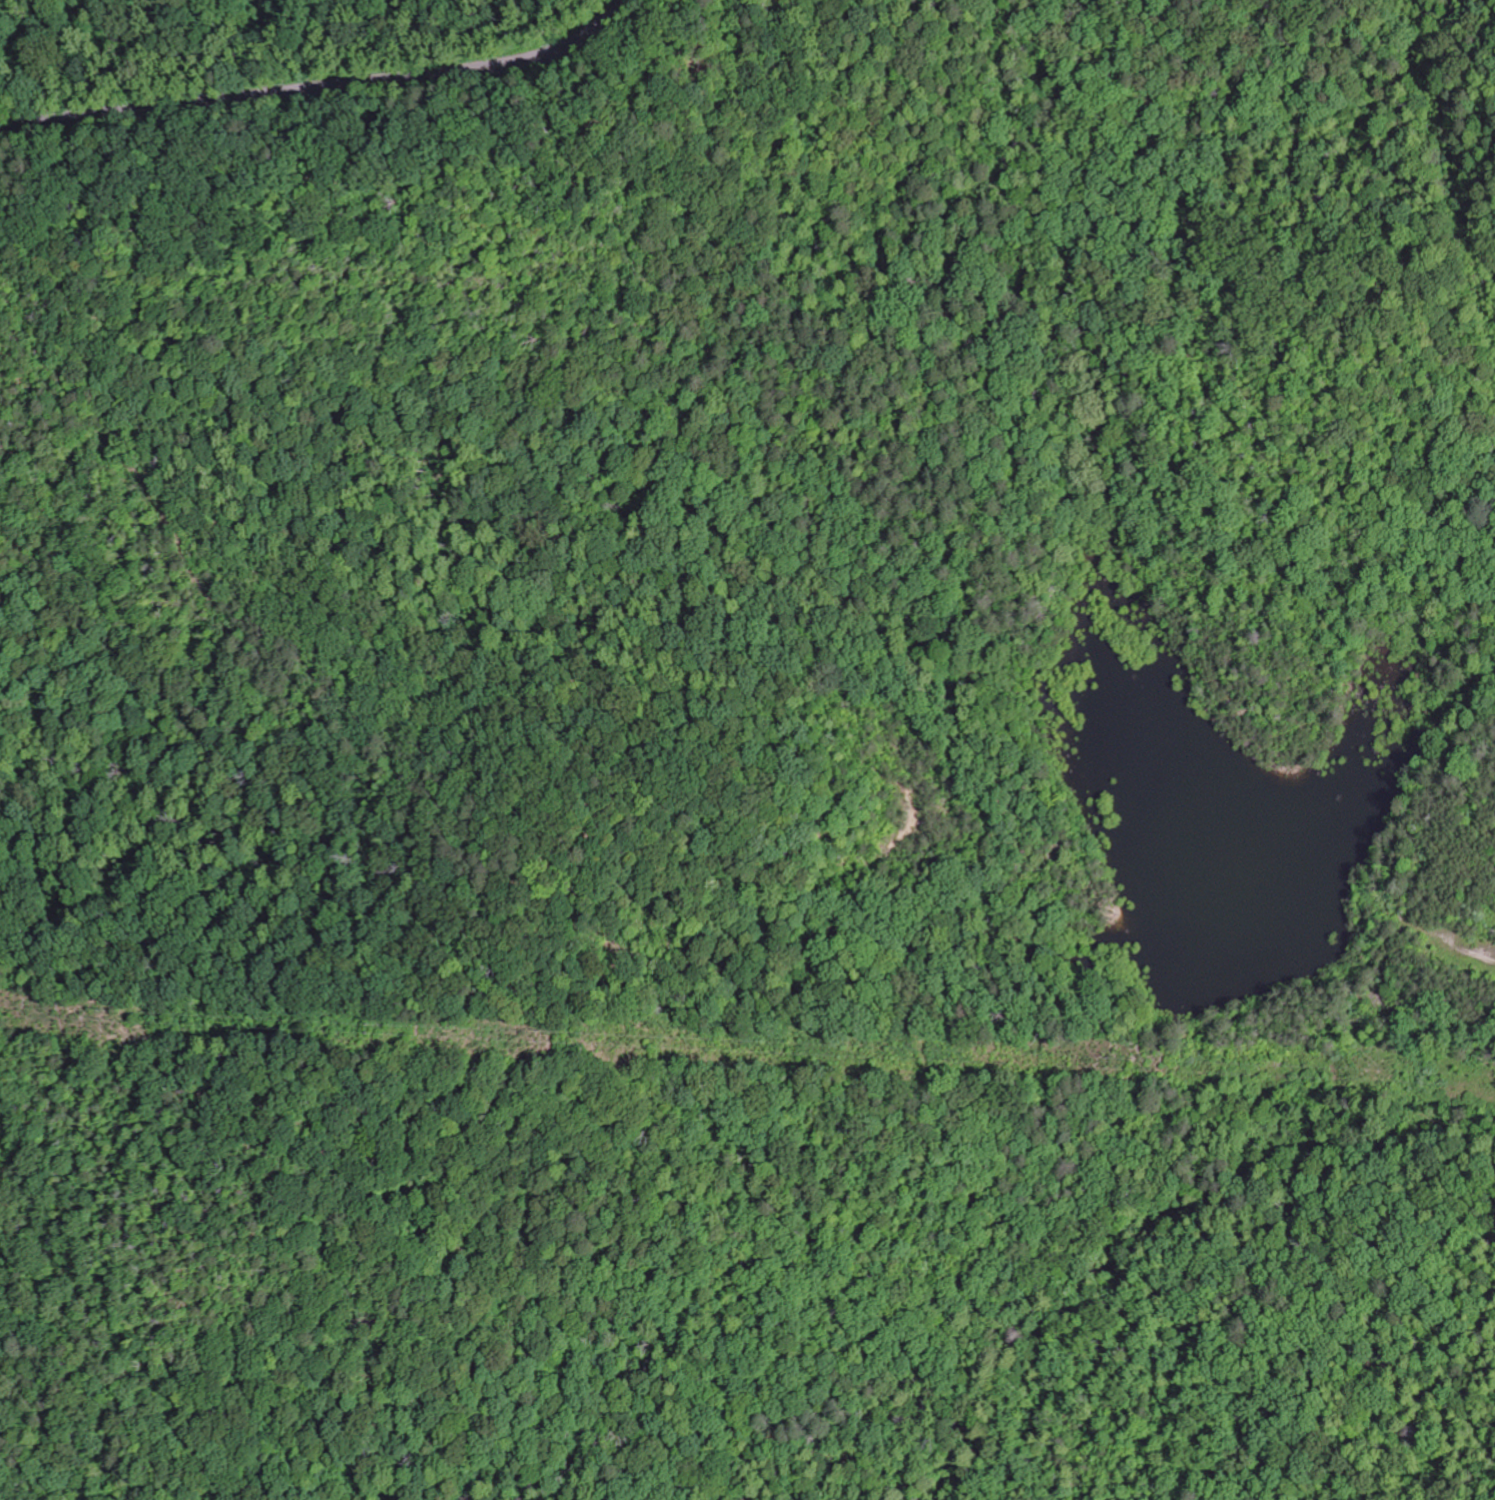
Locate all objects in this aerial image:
road: (319, 85)
road: (908, 824)

